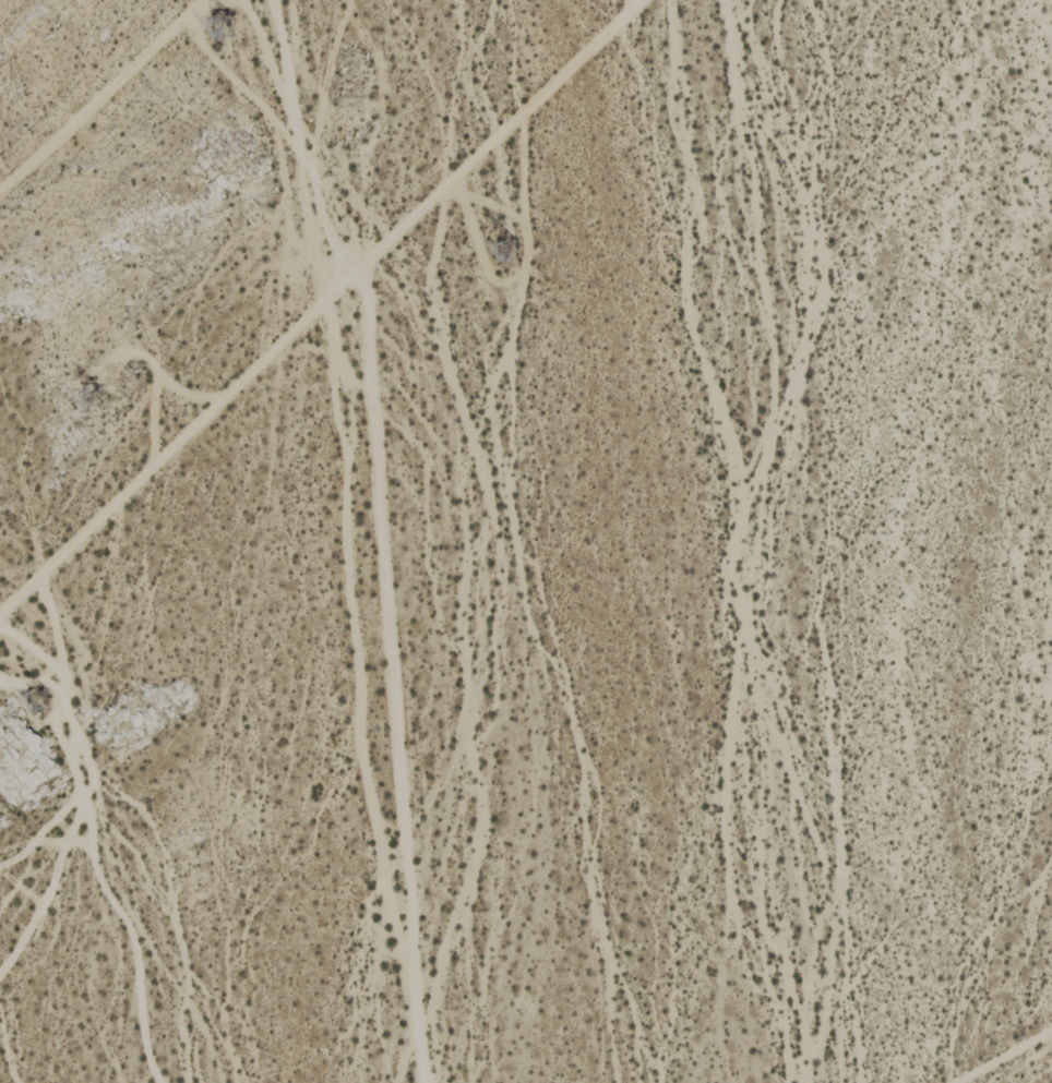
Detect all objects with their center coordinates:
power tower: (229, 25)
power tower: (513, 255)
road: (321, 305)
power tower: (133, 381)
power tower: (35, 701)
road: (1004, 1056)

